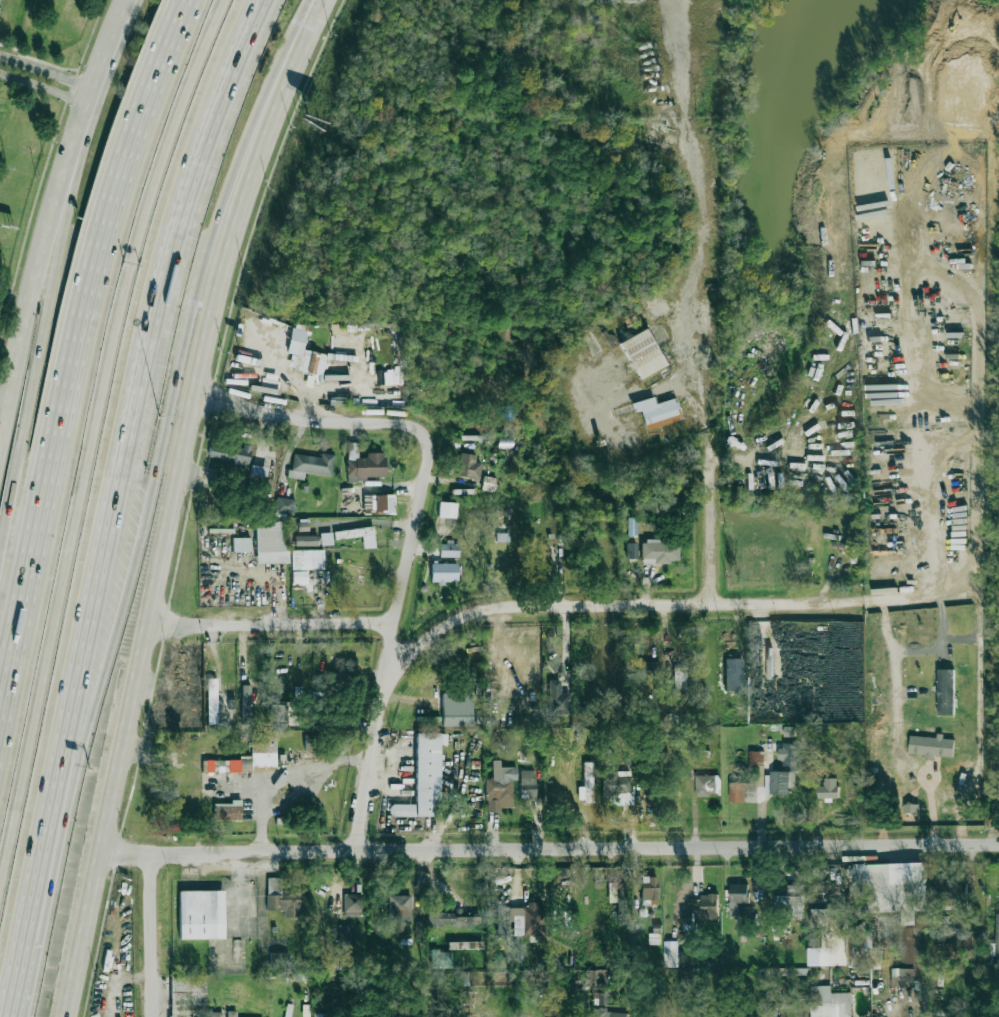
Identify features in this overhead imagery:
parking lot: (0, 3)
road: (109, 50)
road: (47, 72)
road: (45, 88)
road: (682, 94)
park: (30, 97)
road: (82, 118)
road: (89, 120)
road: (653, 142)
road: (33, 293)
road: (697, 306)
building: (339, 328)
road: (41, 341)
road: (67, 352)
building: (642, 354)
building: (305, 355)
road: (588, 388)
building: (657, 412)
road: (325, 421)
road: (99, 445)
building: (229, 455)
building: (363, 464)
building: (311, 465)
building: (469, 466)
building: (257, 474)
road: (920, 479)
road: (174, 501)
road: (114, 502)
road: (147, 502)
building: (378, 504)
building: (285, 505)
building: (447, 510)
road: (718, 517)
building: (358, 535)
building: (326, 539)
building: (306, 540)
building: (883, 541)
building: (272, 542)
building: (241, 545)
building: (449, 549)
building: (631, 550)
building: (539, 551)
building: (659, 551)
building: (308, 563)
building: (444, 573)
road: (608, 608)
road: (272, 625)
road: (387, 658)
road: (895, 668)
building: (644, 669)
building: (733, 674)
building: (340, 681)
building: (945, 691)
building: (212, 695)
building: (558, 699)
building: (457, 709)
building: (277, 716)
building: (310, 742)
building: (931, 746)
building: (261, 752)
building: (791, 755)
building: (756, 758)
building: (425, 778)
building: (781, 783)
building: (527, 784)
building: (586, 784)
road: (289, 785)
building: (706, 785)
building: (617, 786)
building: (500, 787)
building: (829, 788)
building: (737, 792)
building: (227, 811)
road: (551, 852)
building: (891, 887)
building: (649, 890)
building: (950, 890)
building: (613, 892)
building: (737, 897)
building: (284, 899)
building: (790, 901)
building: (353, 904)
building: (399, 907)
building: (702, 908)
building: (201, 914)
building: (450, 918)
building: (501, 920)
building: (528, 921)
building: (344, 935)
building: (655, 935)
building: (828, 936)
road: (150, 937)
building: (997, 941)
building: (465, 945)
building: (959, 947)
building: (862, 948)
building: (670, 954)
building: (278, 958)
building: (441, 959)
building: (594, 976)
building: (904, 977)
building: (773, 990)
building: (187, 995)
building: (601, 999)
building: (829, 1002)
building: (770, 1011)
building: (600, 1012)
building: (222, 1014)
building: (320, 1015)
building: (746, 1016)

